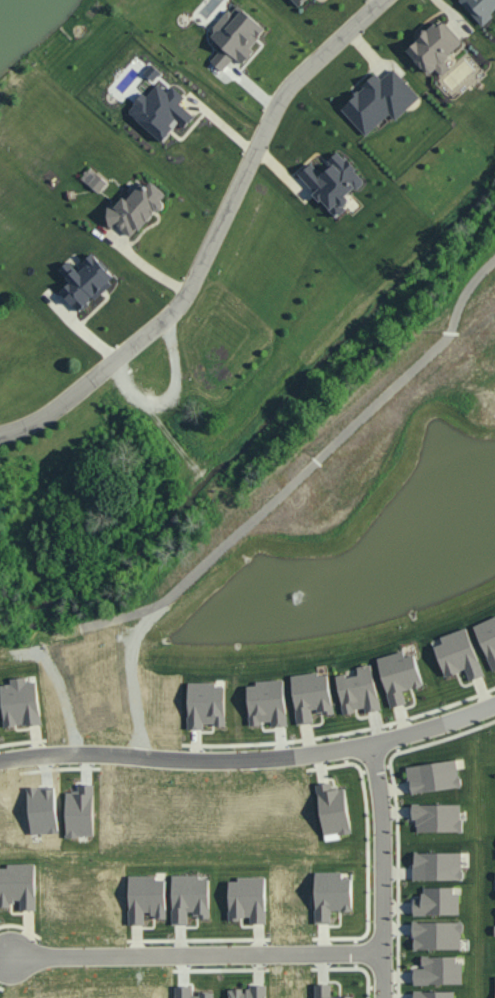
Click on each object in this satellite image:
building: (301, 1)
building: (481, 8)
building: (237, 35)
building: (437, 47)
building: (381, 101)
building: (162, 110)
building: (140, 206)
road: (210, 236)
building: (87, 281)
road: (129, 386)
road: (380, 400)
road: (147, 622)
building: (488, 639)
building: (460, 655)
building: (401, 676)
building: (360, 691)
building: (313, 695)
building: (21, 703)
building: (269, 703)
building: (207, 705)
road: (249, 759)
building: (435, 776)
building: (336, 809)
building: (81, 812)
building: (438, 818)
building: (439, 866)
road: (380, 870)
building: (19, 886)
building: (333, 895)
building: (191, 898)
building: (148, 899)
building: (249, 899)
building: (438, 902)
building: (438, 936)
road: (194, 954)
building: (440, 971)
building: (326, 991)
building: (250, 992)
building: (191, 993)
building: (435, 994)

